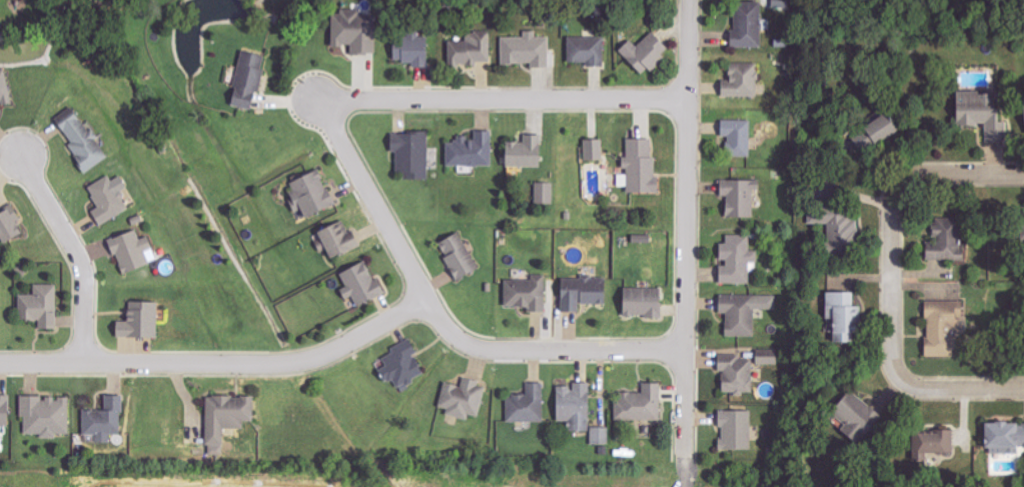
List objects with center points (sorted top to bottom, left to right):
building: (745, 26)
building: (352, 31)
building: (410, 49)
building: (469, 50)
building: (525, 50)
building: (585, 50)
building: (643, 53)
building: (246, 80)
building: (741, 81)
building: (4, 89)
building: (1023, 104)
building: (979, 113)
building: (870, 134)
building: (736, 137)
building: (82, 143)
building: (593, 150)
building: (470, 151)
building: (522, 152)
building: (410, 155)
road: (352, 160)
building: (638, 167)
building: (310, 193)
building: (544, 193)
building: (738, 197)
building: (108, 199)
road: (893, 219)
building: (1023, 219)
building: (9, 225)
road: (686, 227)
building: (837, 227)
building: (337, 239)
building: (641, 239)
building: (944, 241)
road: (76, 250)
building: (131, 251)
building: (457, 256)
building: (735, 259)
building: (361, 284)
building: (526, 293)
building: (581, 293)
building: (641, 302)
building: (39, 307)
building: (743, 312)
building: (840, 318)
building: (139, 321)
building: (937, 329)
building: (767, 357)
road: (220, 363)
building: (401, 365)
building: (735, 374)
road: (962, 387)
building: (462, 399)
building: (639, 404)
building: (526, 405)
building: (573, 406)
building: (5, 410)
building: (855, 414)
building: (46, 415)
building: (226, 416)
building: (105, 419)
building: (1023, 424)
building: (735, 430)
building: (600, 435)
building: (1002, 437)
building: (933, 444)
road: (685, 471)

